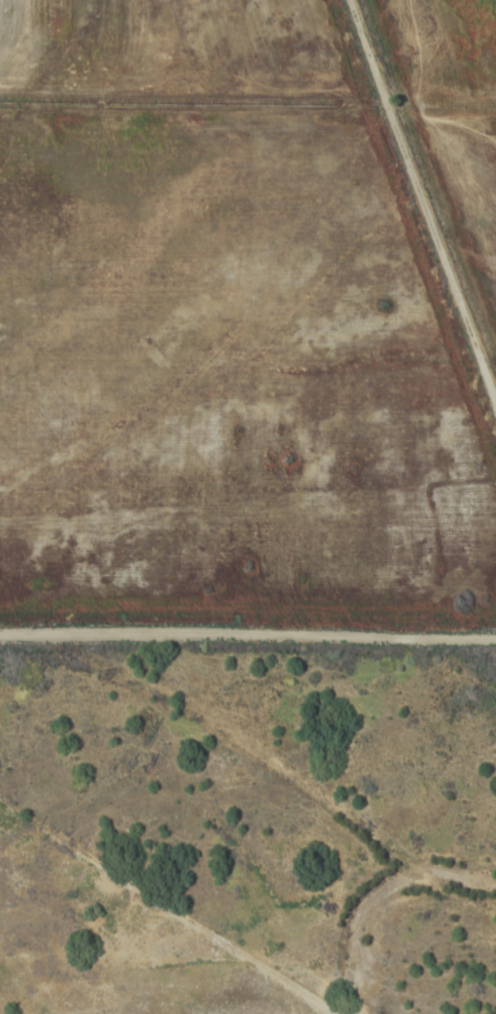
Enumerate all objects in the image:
road: (248, 623)

